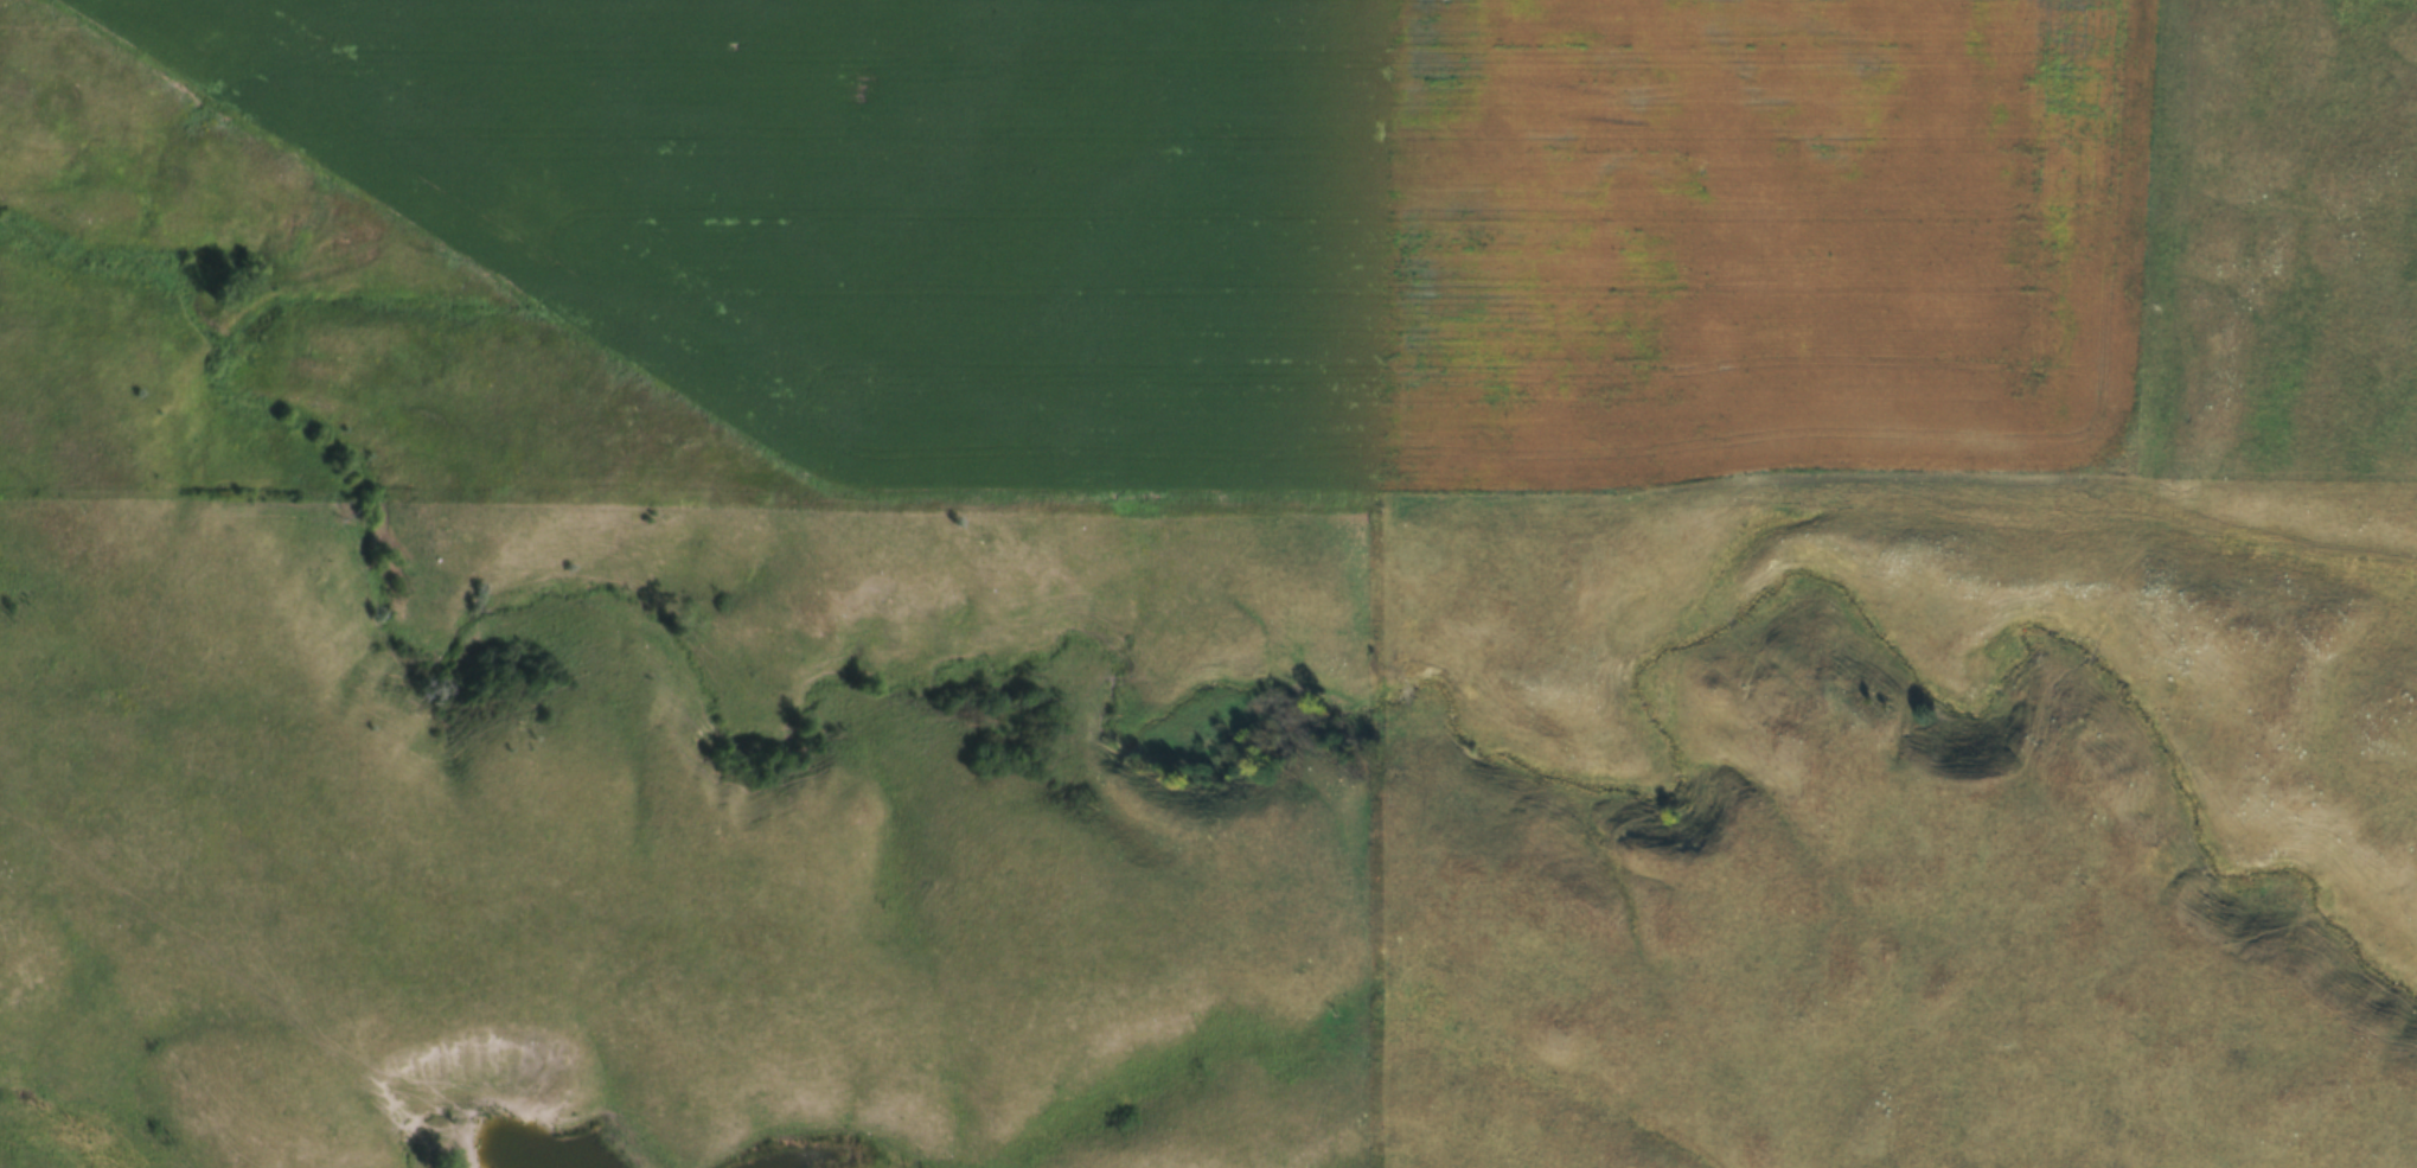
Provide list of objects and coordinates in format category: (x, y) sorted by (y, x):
road: (1208, 513)

